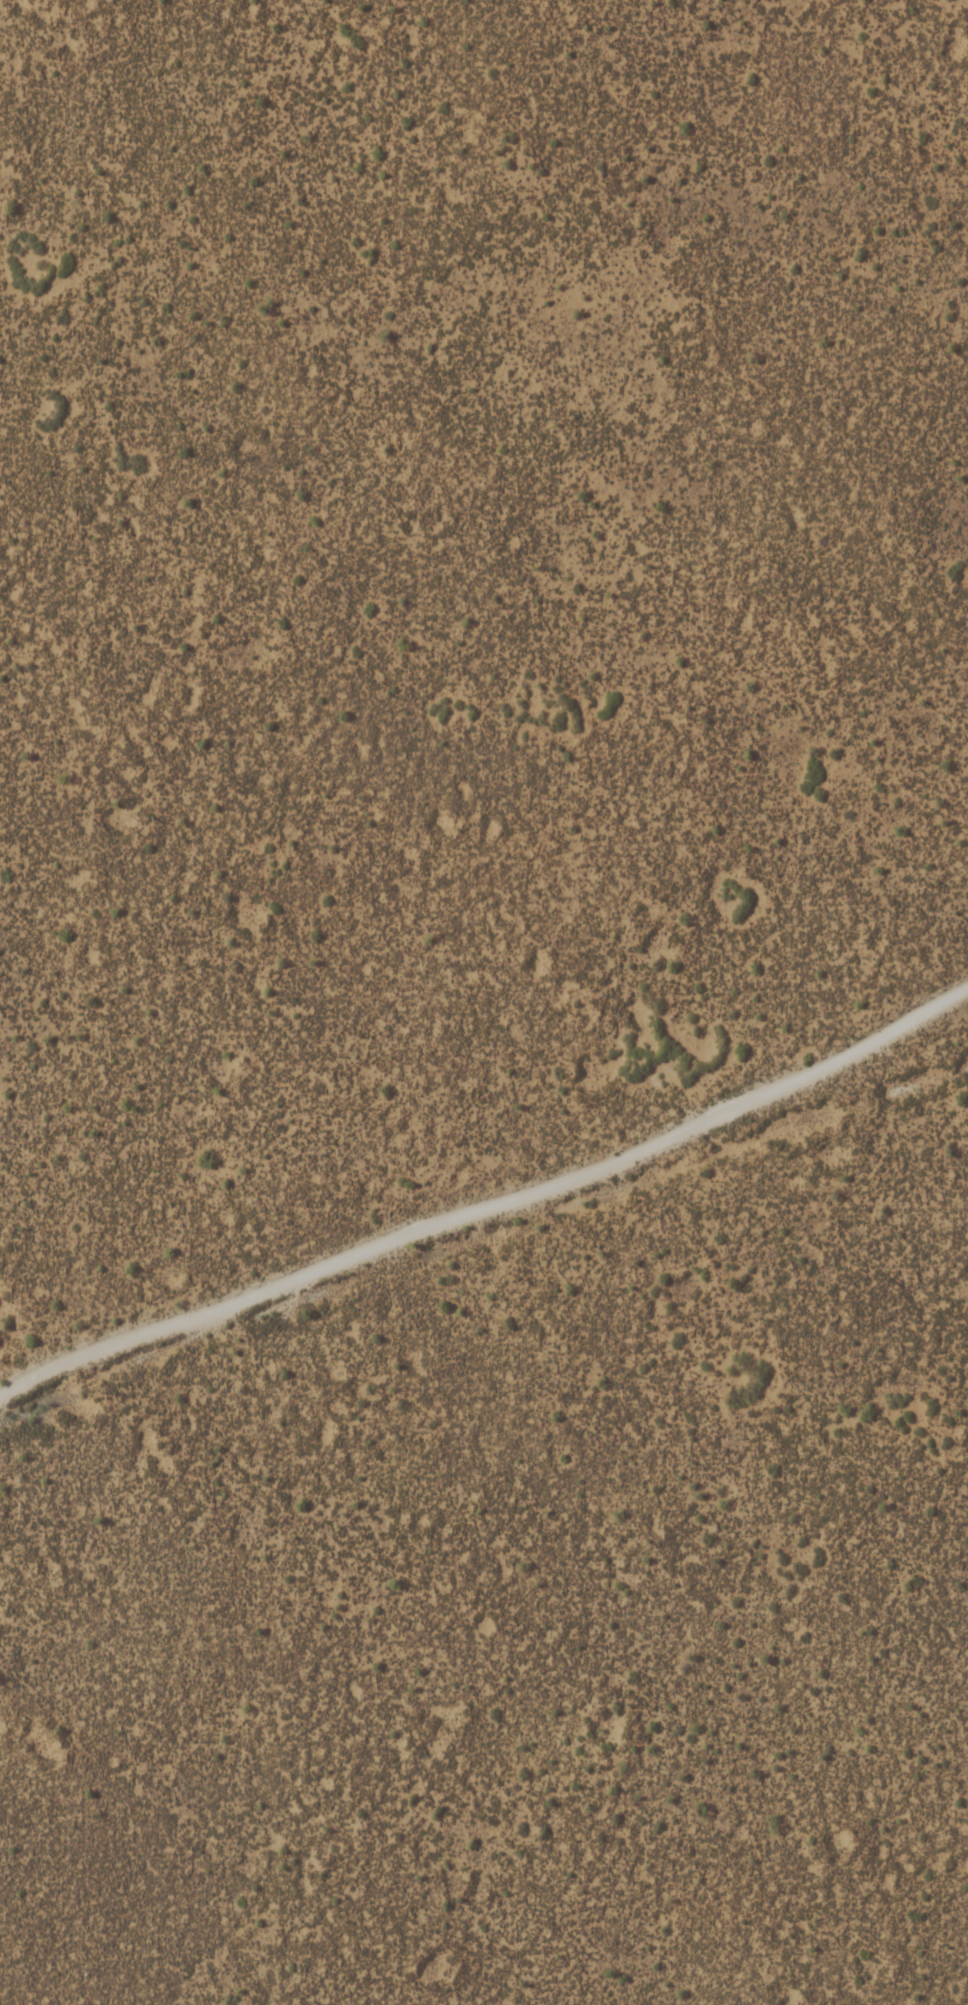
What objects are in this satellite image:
road: (489, 1203)

